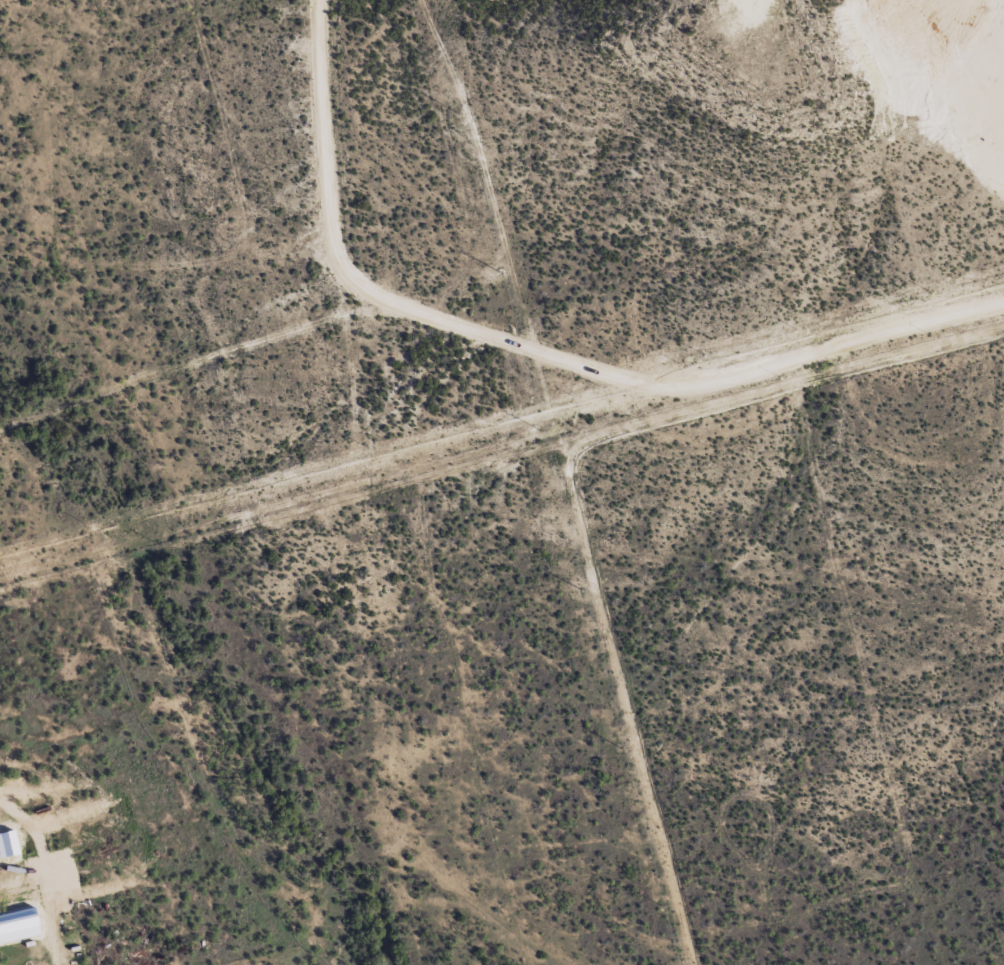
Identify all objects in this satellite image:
road: (16, 73)
road: (437, 350)
road: (164, 374)
building: (93, 835)
building: (16, 917)
road: (20, 917)

